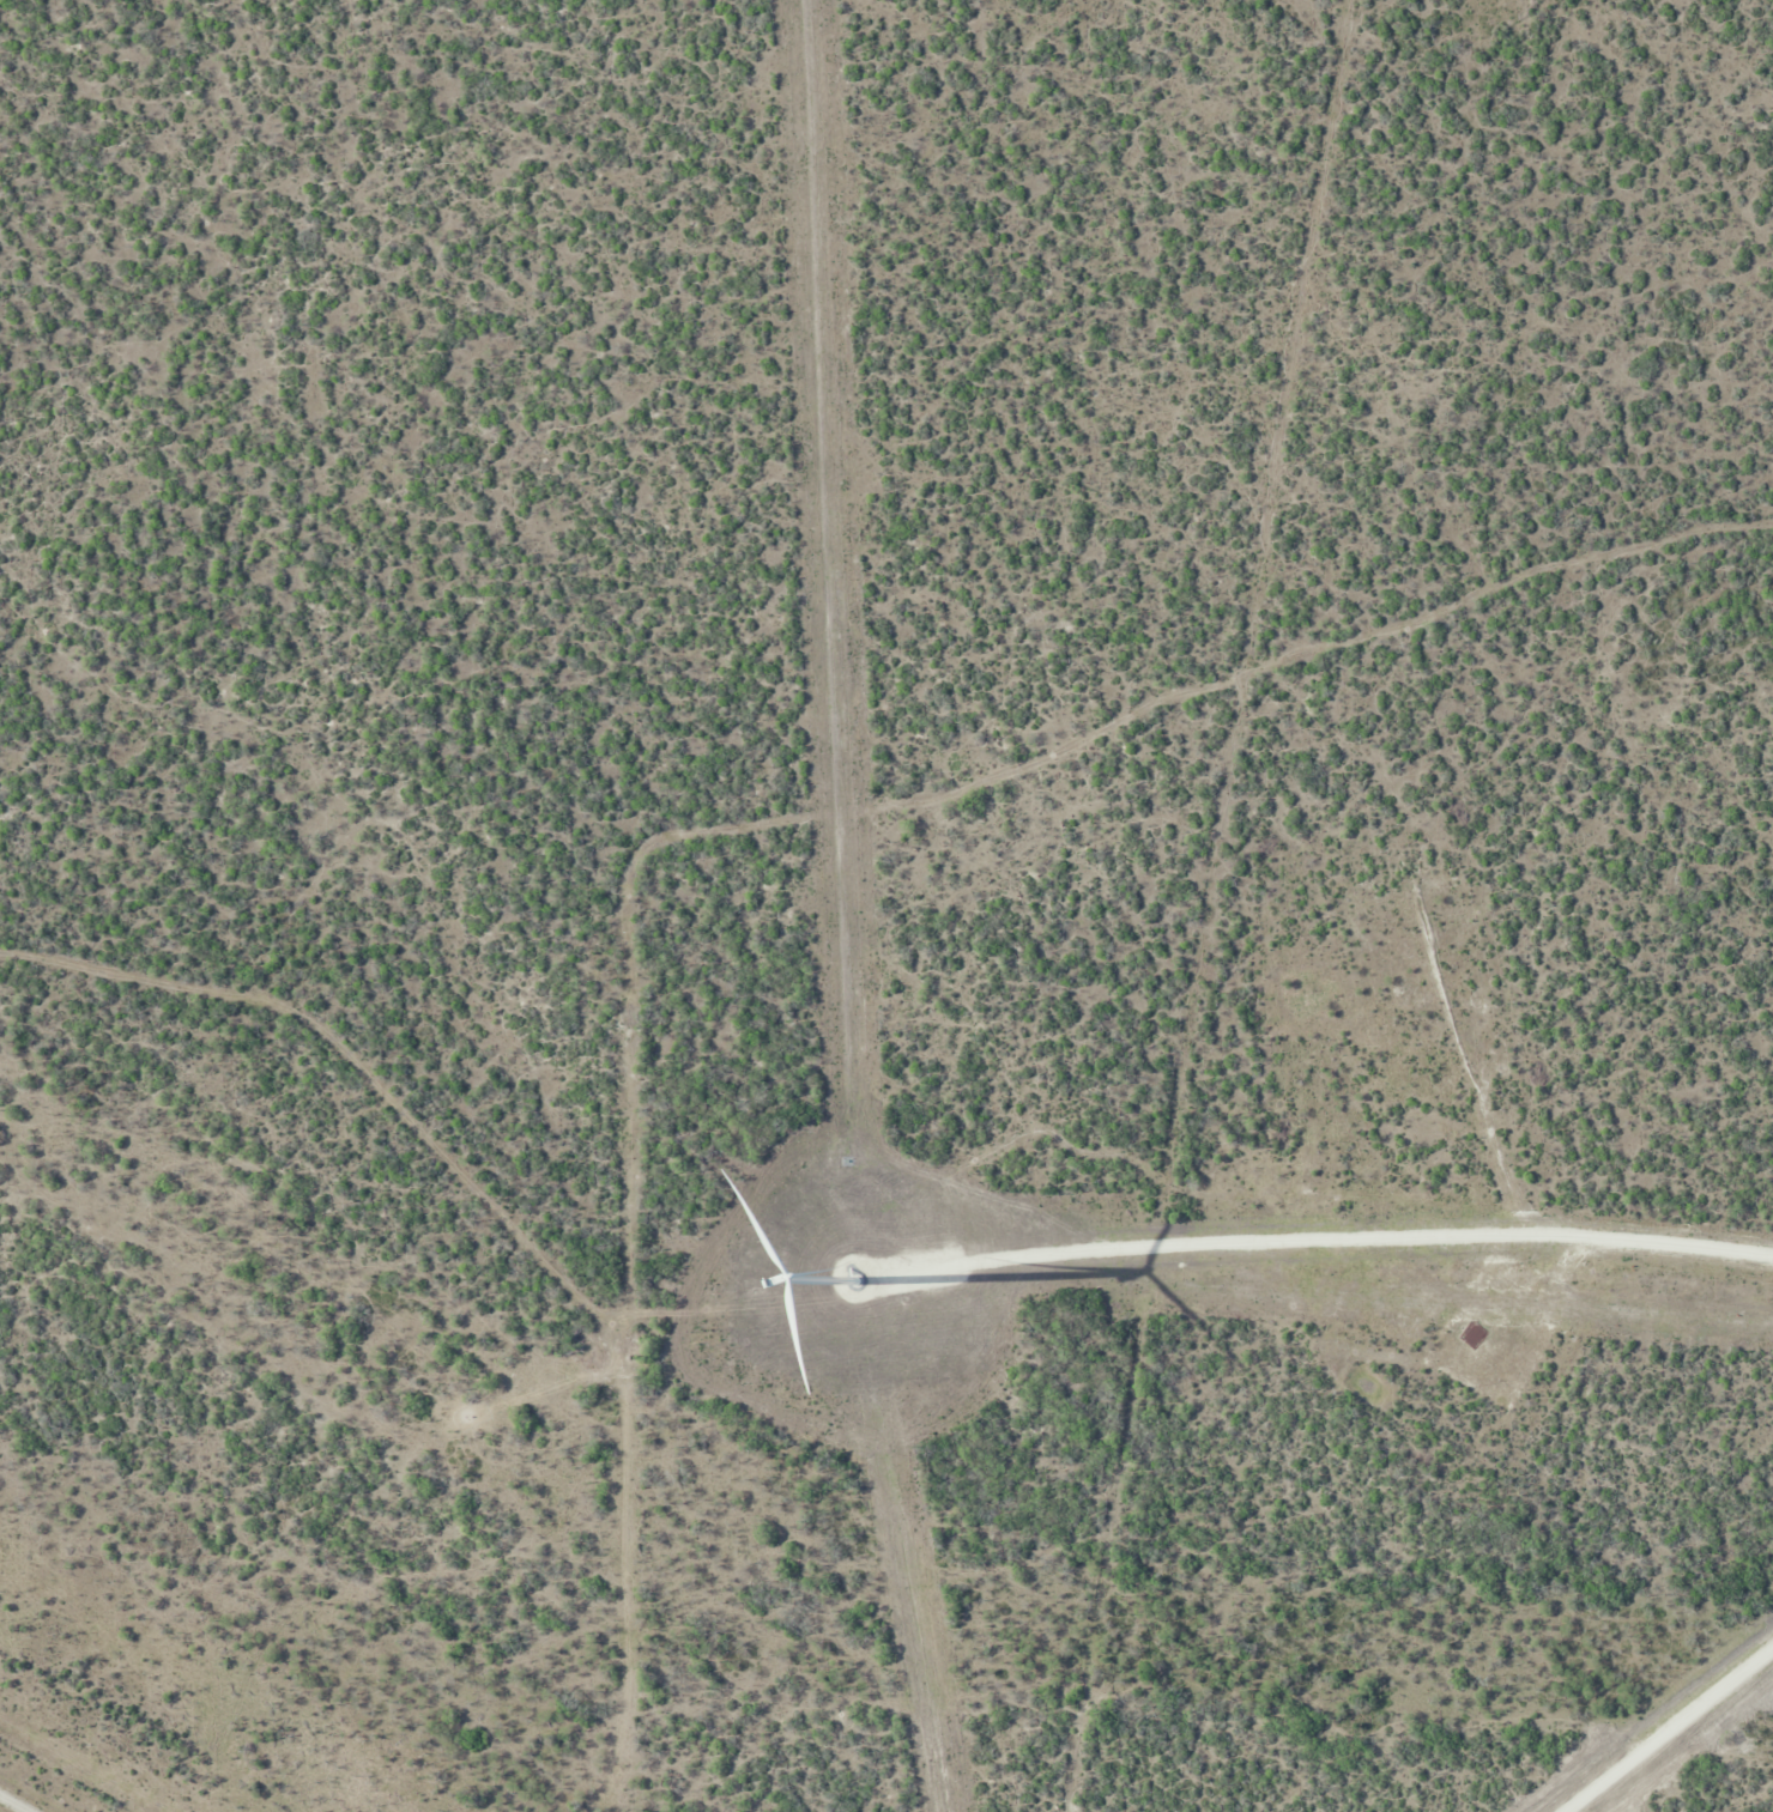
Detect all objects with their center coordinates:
wind turbine: (842, 1269)

